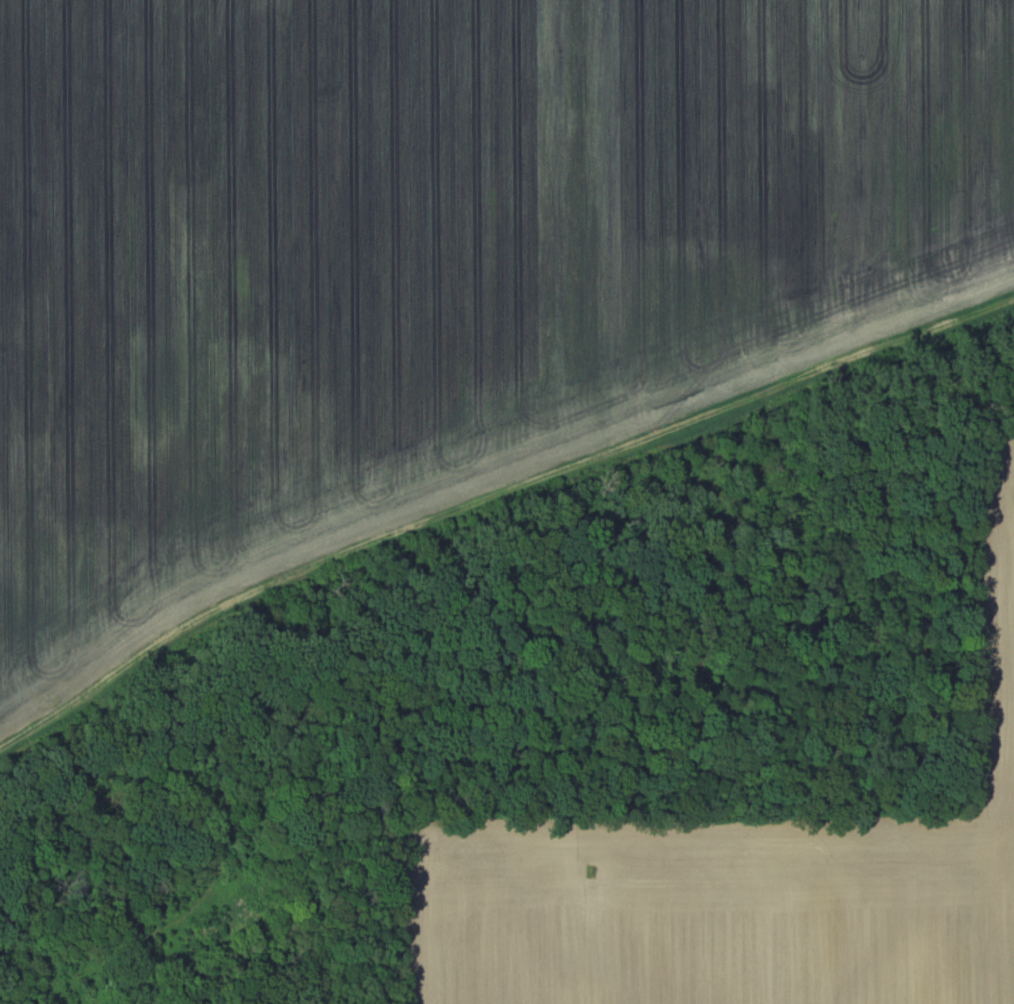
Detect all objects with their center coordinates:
road: (167, 771)

